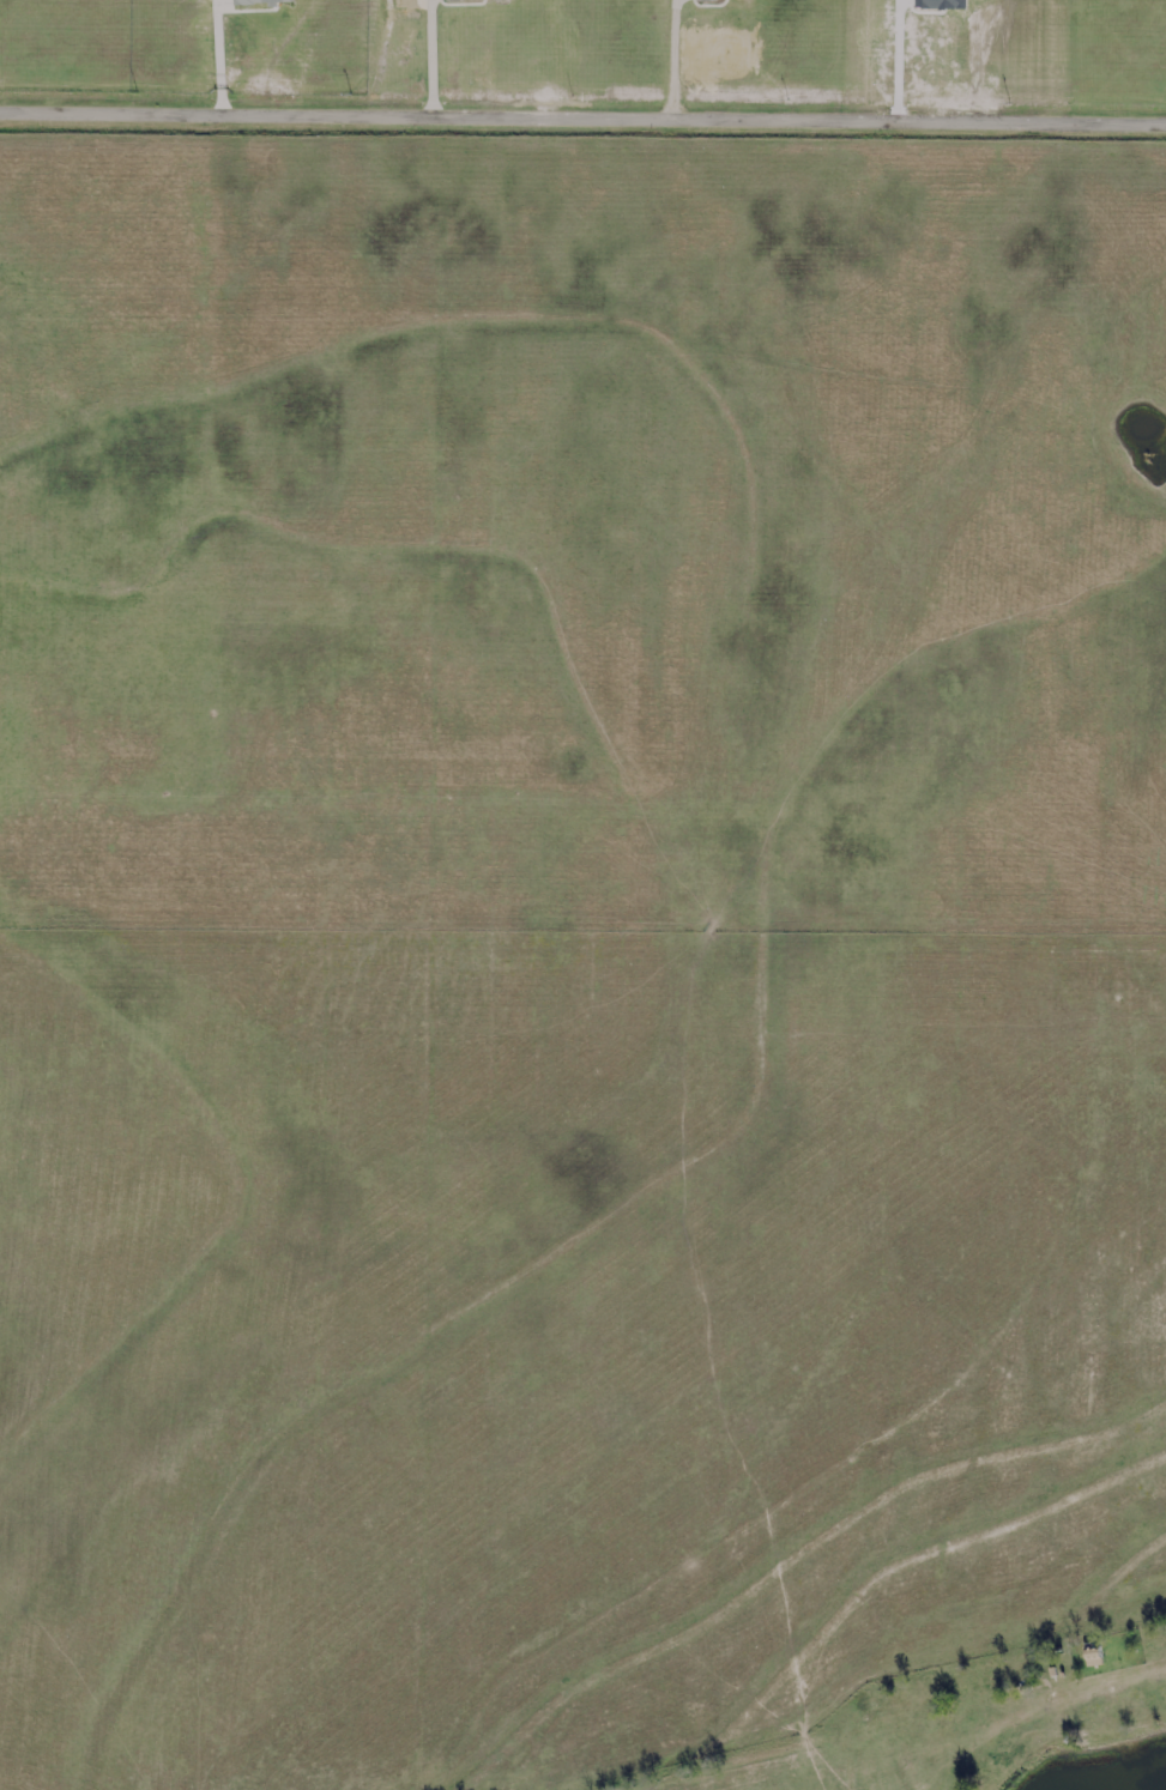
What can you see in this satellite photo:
building: (711, 0)
building: (266, 1)
road: (220, 54)
road: (434, 55)
road: (676, 58)
road: (582, 111)
building: (1091, 1657)

